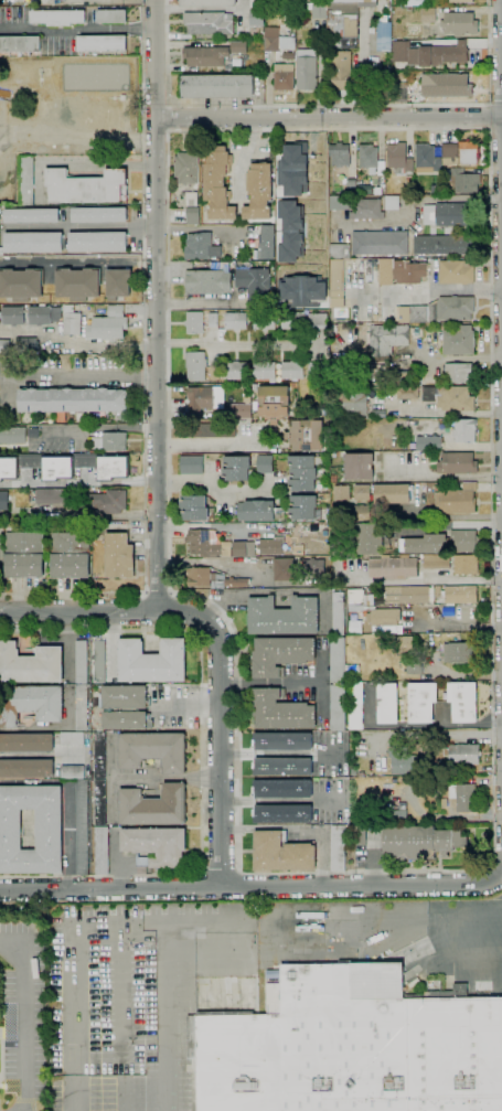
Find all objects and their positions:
road: (117, 0)
building: (461, 1)
road: (501, 1)
building: (423, 2)
building: (209, 3)
road: (204, 9)
building: (314, 10)
building: (111, 15)
building: (429, 15)
building: (60, 17)
building: (257, 17)
building: (345, 20)
building: (209, 23)
building: (460, 23)
road: (77, 29)
road: (501, 32)
building: (277, 40)
building: (20, 44)
building: (104, 44)
building: (238, 46)
building: (402, 51)
building: (447, 54)
building: (206, 56)
road: (156, 60)
building: (307, 70)
building: (341, 71)
building: (285, 76)
building: (447, 85)
building: (217, 86)
building: (383, 90)
building: (399, 92)
road: (494, 104)
road: (325, 105)
road: (153, 107)
road: (488, 116)
road: (329, 117)
road: (167, 118)
road: (495, 128)
road: (153, 135)
road: (501, 135)
road: (77, 138)
building: (273, 153)
building: (450, 153)
building: (468, 153)
building: (340, 154)
building: (398, 157)
building: (427, 157)
building: (369, 158)
road: (78, 163)
building: (186, 168)
building: (293, 168)
building: (446, 174)
building: (26, 180)
building: (464, 181)
building: (218, 182)
building: (352, 183)
building: (86, 188)
building: (259, 191)
building: (378, 191)
building: (192, 199)
road: (413, 201)
building: (395, 202)
building: (339, 203)
building: (364, 210)
building: (447, 214)
building: (32, 215)
building: (100, 215)
building: (193, 215)
road: (81, 226)
building: (98, 242)
building: (268, 242)
building: (34, 243)
building: (380, 243)
building: (441, 244)
building: (202, 246)
building: (335, 250)
road: (77, 263)
building: (384, 270)
building: (408, 271)
building: (456, 271)
building: (337, 276)
building: (231, 281)
building: (20, 284)
building: (76, 284)
building: (118, 284)
building: (301, 290)
building: (444, 310)
building: (40, 314)
building: (13, 316)
building: (213, 320)
building: (235, 321)
building: (278, 321)
building: (318, 321)
building: (0, 322)
building: (194, 322)
building: (72, 324)
building: (108, 325)
building: (415, 333)
building: (387, 339)
building: (459, 341)
building: (28, 345)
road: (236, 345)
building: (4, 346)
road: (75, 349)
road: (157, 364)
building: (196, 364)
building: (338, 366)
road: (142, 367)
building: (318, 368)
building: (237, 371)
building: (278, 371)
building: (215, 372)
building: (457, 374)
road: (66, 378)
building: (407, 393)
building: (202, 397)
building: (450, 398)
building: (77, 400)
building: (354, 402)
building: (274, 403)
building: (239, 410)
road: (447, 415)
building: (211, 427)
road: (99, 428)
building: (464, 430)
building: (34, 431)
building: (13, 435)
building: (307, 435)
road: (442, 435)
building: (109, 440)
building: (428, 444)
road: (218, 446)
building: (263, 463)
building: (457, 463)
building: (190, 464)
building: (360, 466)
building: (66, 467)
building: (236, 467)
road: (77, 481)
building: (303, 487)
road: (214, 489)
building: (342, 493)
building: (362, 493)
building: (392, 493)
building: (49, 494)
building: (110, 498)
building: (456, 499)
building: (4, 500)
building: (321, 500)
building: (194, 506)
building: (257, 510)
building: (341, 512)
building: (320, 513)
road: (85, 519)
building: (370, 536)
building: (463, 536)
building: (342, 543)
building: (425, 544)
building: (215, 545)
building: (271, 546)
building: (288, 553)
building: (24, 554)
building: (121, 554)
building: (71, 555)
building: (436, 562)
building: (466, 565)
building: (314, 566)
building: (394, 567)
building: (286, 568)
building: (201, 575)
building: (237, 581)
road: (428, 581)
road: (158, 592)
building: (410, 594)
building: (460, 594)
building: (356, 599)
road: (142, 611)
road: (169, 611)
road: (78, 612)
building: (339, 613)
building: (285, 616)
building: (377, 620)
building: (460, 652)
building: (281, 654)
building: (153, 660)
building: (100, 661)
building: (31, 663)
building: (339, 683)
building: (126, 696)
building: (79, 698)
building: (102, 702)
building: (388, 702)
building: (423, 702)
building: (463, 702)
building: (31, 703)
building: (356, 705)
building: (281, 712)
building: (127, 719)
road: (218, 725)
building: (332, 737)
building: (284, 740)
building: (28, 741)
building: (154, 749)
building: (461, 754)
road: (200, 757)
building: (400, 761)
building: (285, 766)
building: (28, 768)
building: (332, 770)
building: (424, 781)
building: (439, 783)
building: (285, 788)
building: (455, 788)
building: (436, 794)
building: (466, 794)
building: (445, 802)
building: (154, 805)
building: (100, 806)
building: (284, 813)
building: (81, 815)
building: (331, 816)
building: (50, 829)
building: (360, 835)
building: (421, 841)
building: (157, 845)
building: (339, 847)
road: (492, 851)
building: (282, 852)
road: (220, 869)
road: (252, 885)
road: (22, 908)
building: (310, 915)
road: (357, 938)
road: (72, 950)
parking lot: (143, 1000)
parking lot: (20, 1014)
road: (31, 1016)
road: (125, 1023)
road: (168, 1023)
building: (351, 1047)

